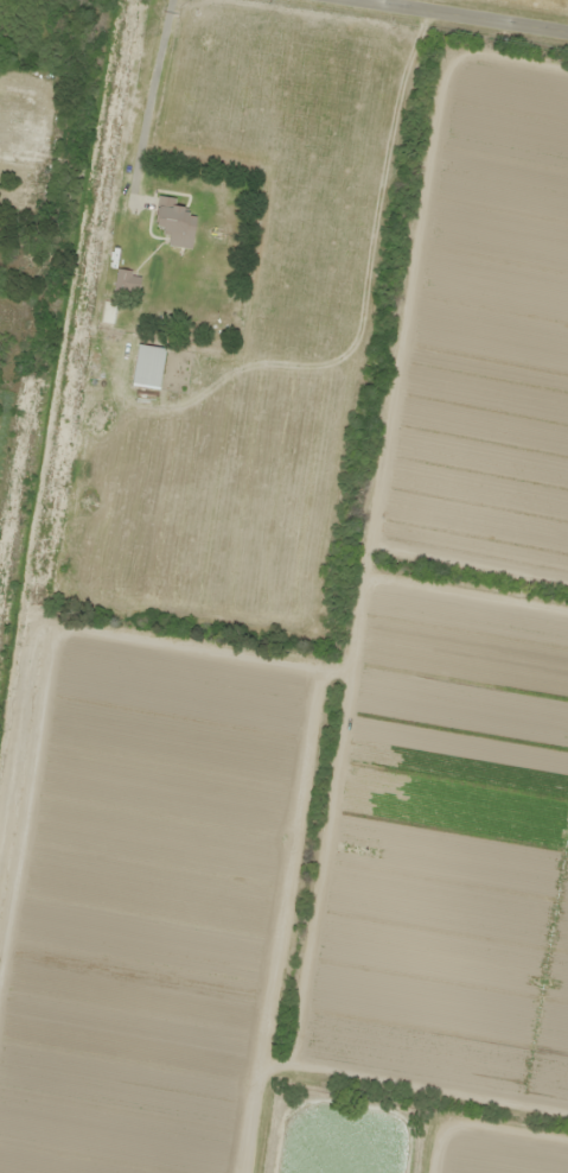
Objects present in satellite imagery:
road: (452, 17)
building: (174, 224)
building: (126, 284)
building: (147, 368)

